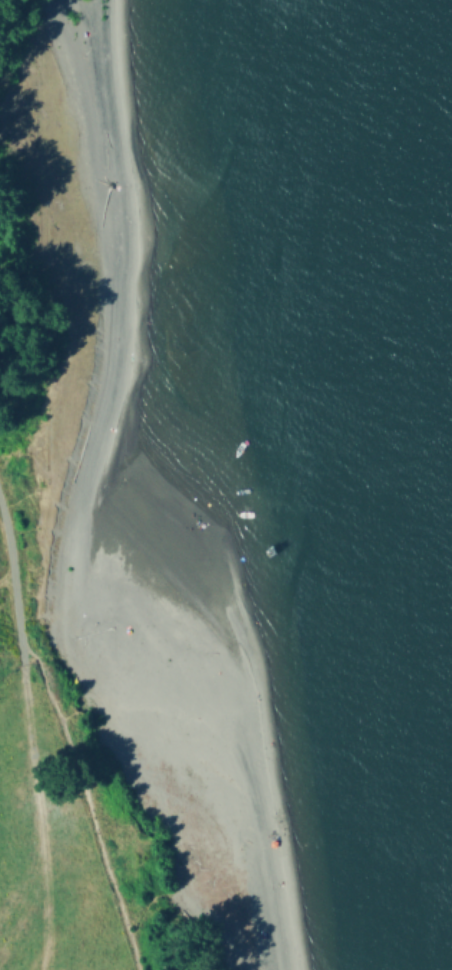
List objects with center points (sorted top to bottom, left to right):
road: (12, 595)
road: (88, 811)
road: (36, 815)

